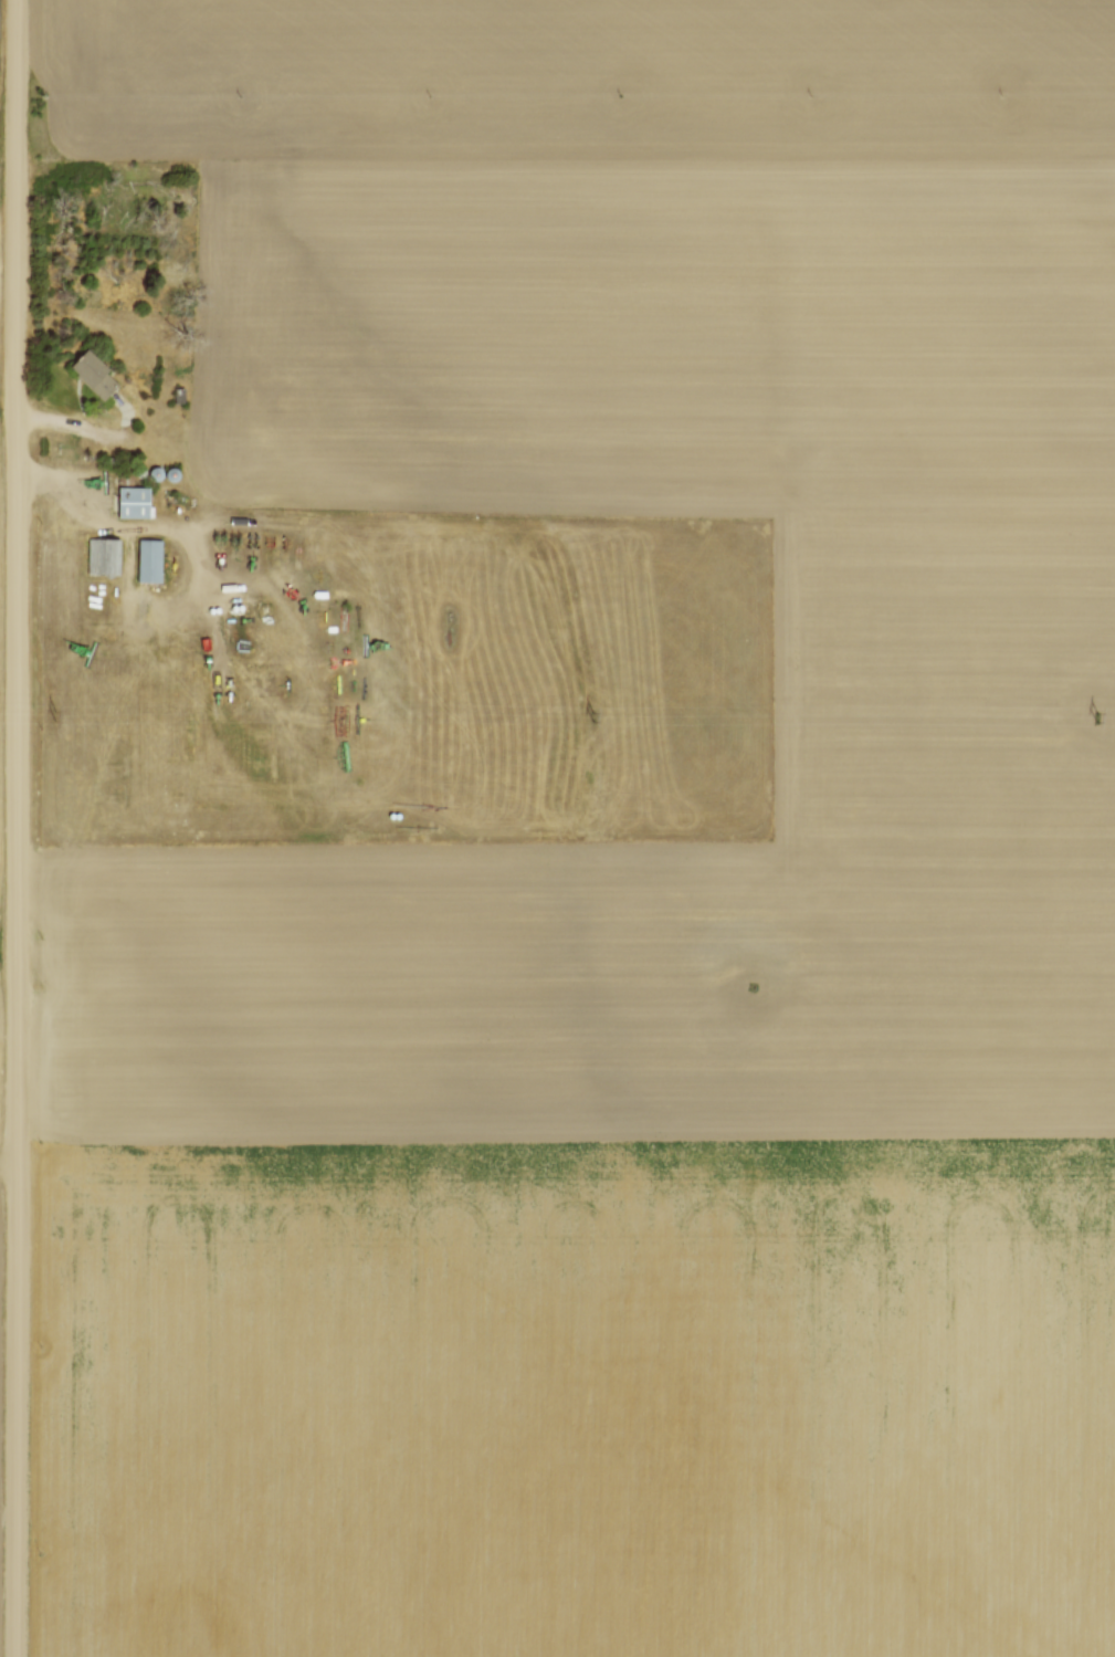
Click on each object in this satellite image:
building: (93, 375)
road: (107, 429)
building: (154, 473)
silo: (154, 473)
building: (172, 474)
silo: (172, 474)
building: (137, 502)
road: (180, 525)
building: (105, 557)
building: (152, 560)
power tower: (57, 716)
power tower: (1097, 717)
power tower: (599, 719)
road: (19, 828)
crop: (625, 872)

